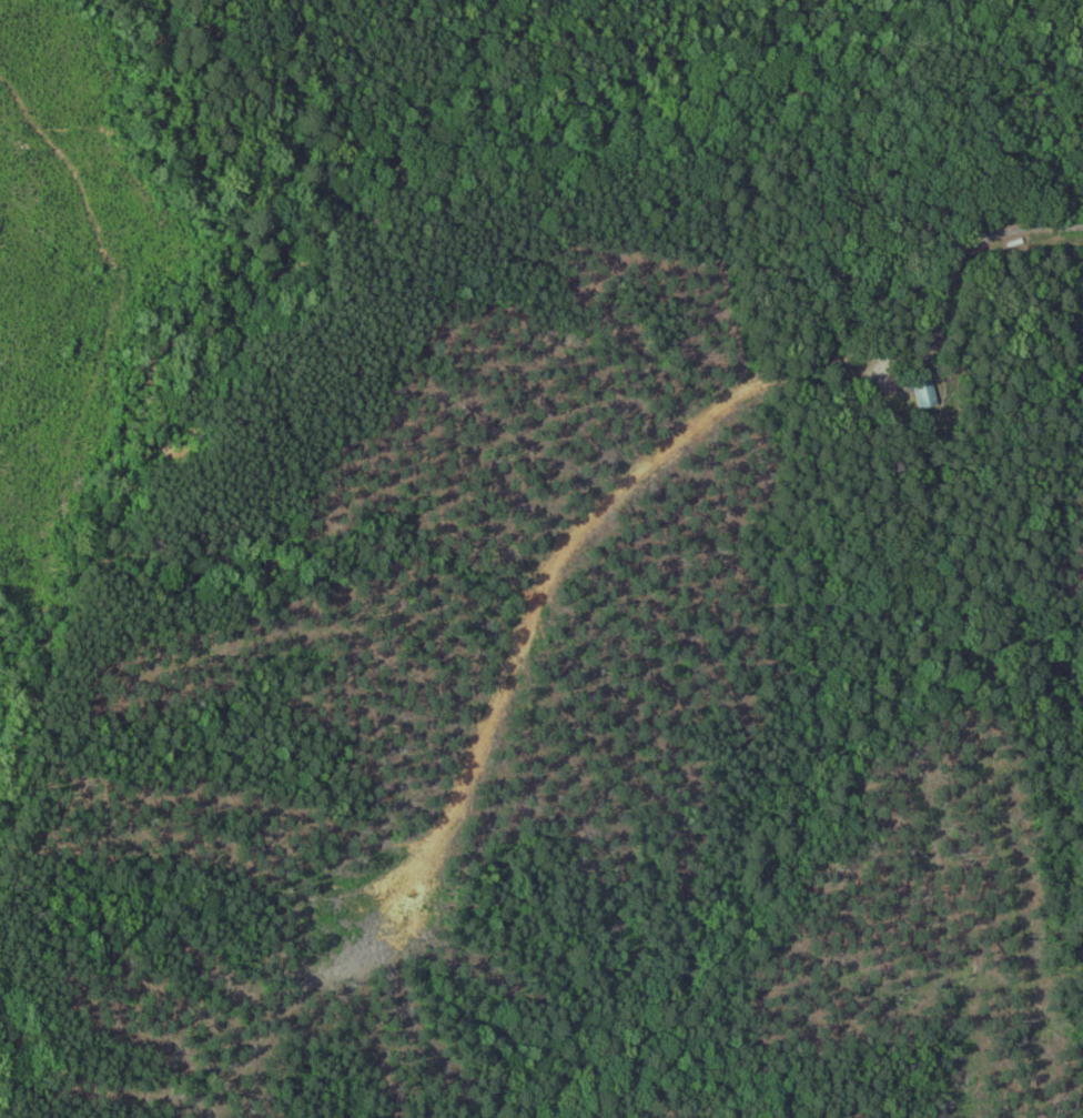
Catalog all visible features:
road: (971, 253)
building: (864, 387)

